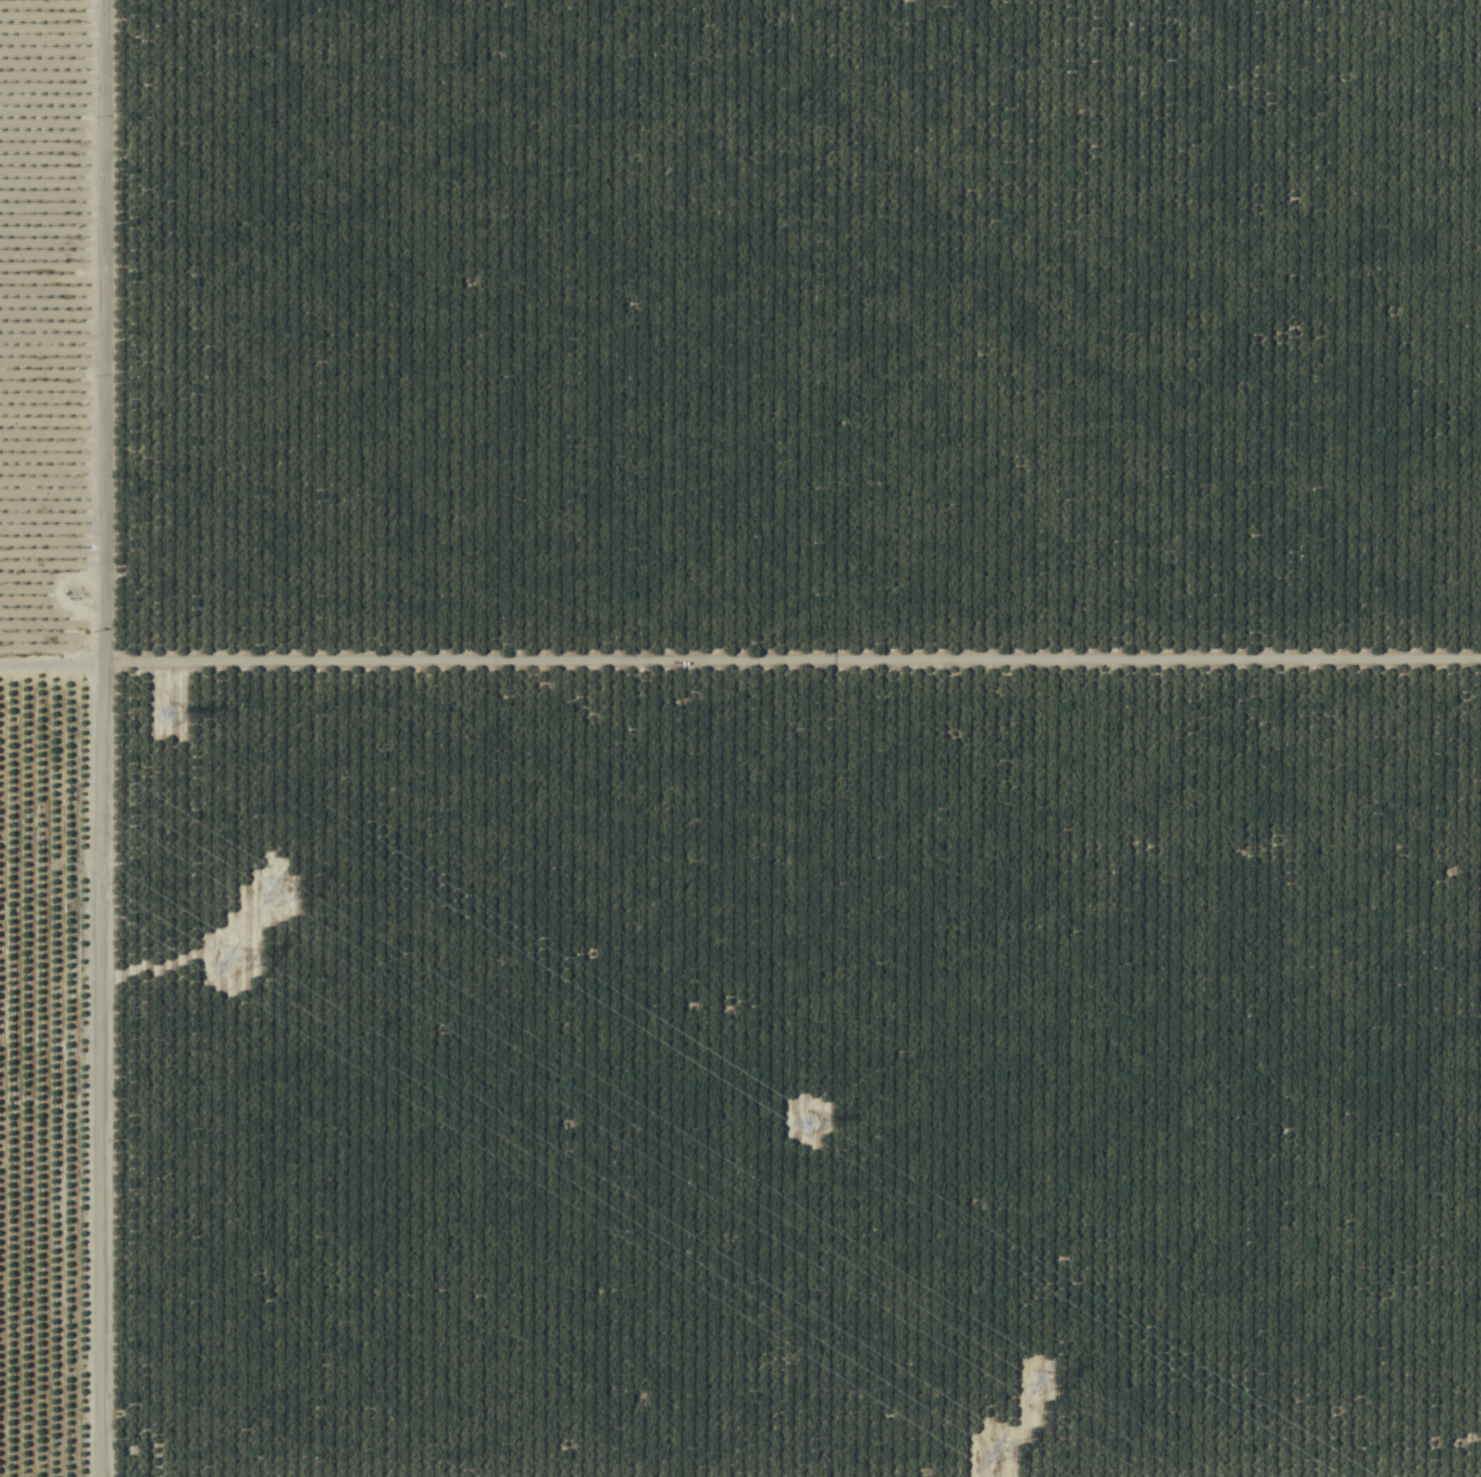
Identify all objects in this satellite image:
power tower: (168, 716)
road: (121, 738)
crop: (740, 738)
power tower: (278, 895)
power tower: (235, 970)
power tower: (807, 1123)
power tower: (1041, 1382)
power tower: (1000, 1451)

